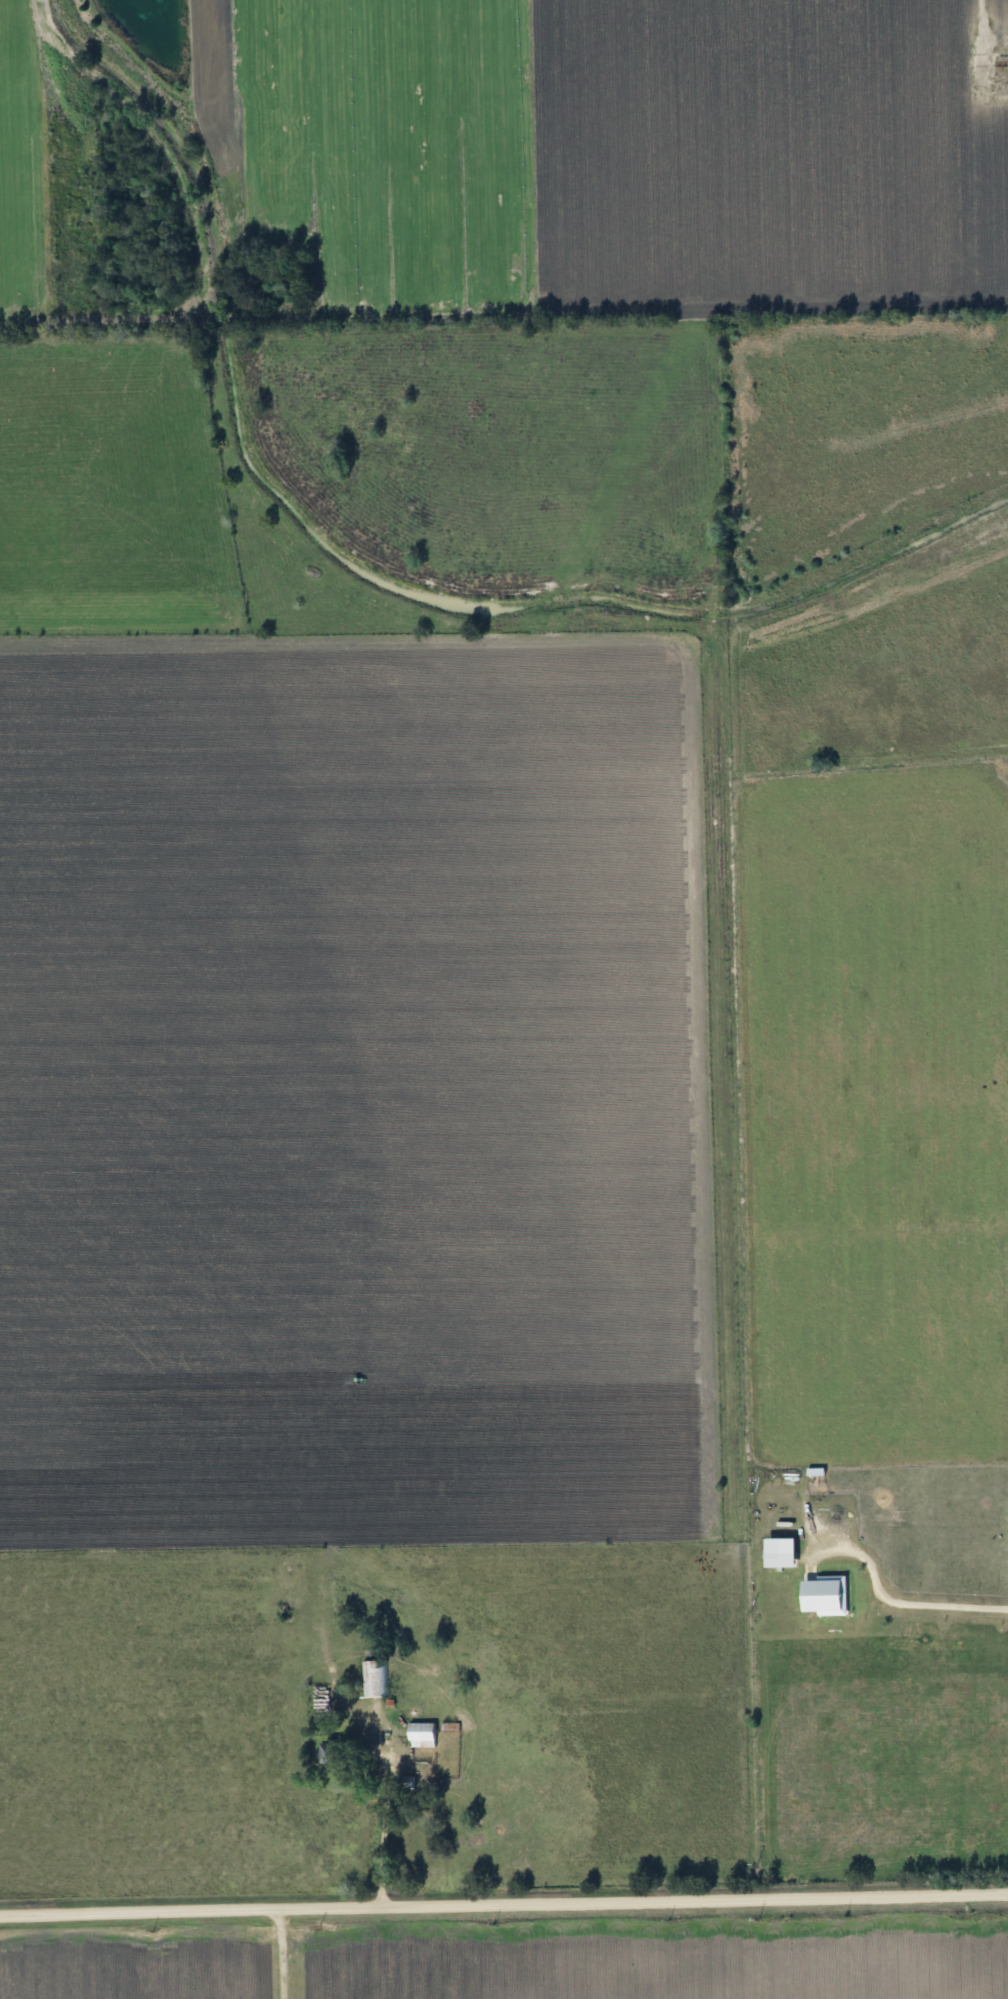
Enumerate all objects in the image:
road: (983, 31)
building: (370, 1678)
building: (416, 1735)
building: (322, 1753)
road: (376, 1836)
road: (504, 1902)
road: (280, 1953)

